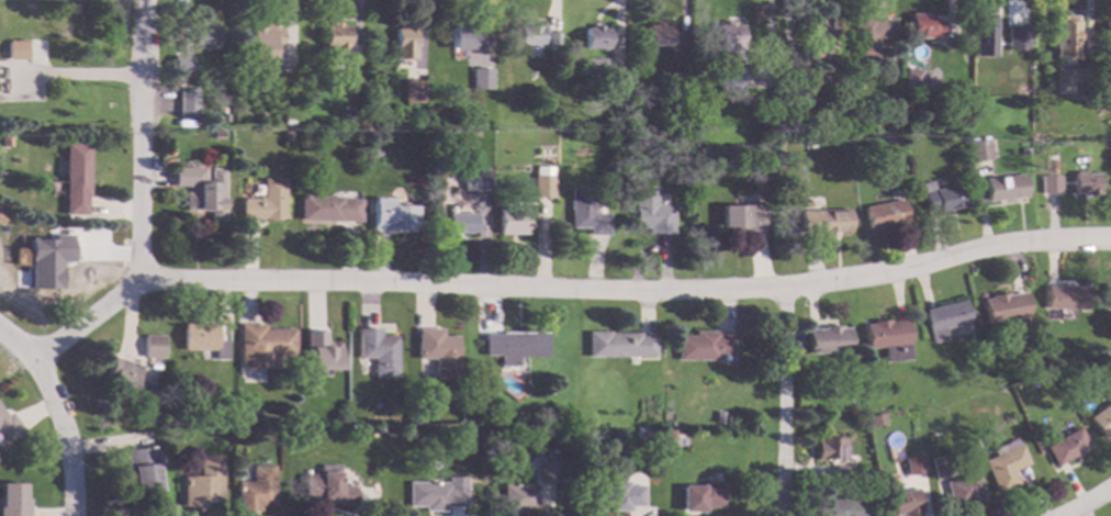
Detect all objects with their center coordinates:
building: (924, 26)
building: (818, 30)
building: (1107, 34)
building: (529, 35)
building: (656, 35)
building: (869, 35)
building: (984, 35)
building: (204, 36)
building: (336, 36)
building: (462, 37)
building: (595, 37)
building: (1017, 38)
building: (1065, 38)
building: (552, 40)
building: (404, 42)
building: (730, 42)
building: (265, 44)
building: (16, 51)
building: (183, 58)
road: (7, 67)
building: (593, 69)
road: (75, 74)
building: (733, 75)
building: (356, 76)
building: (821, 77)
building: (913, 77)
building: (482, 78)
building: (678, 78)
building: (983, 79)
building: (285, 81)
building: (1063, 81)
building: (414, 90)
building: (683, 93)
building: (188, 102)
building: (374, 106)
building: (889, 124)
building: (216, 133)
building: (618, 134)
building: (287, 135)
building: (1055, 143)
building: (979, 150)
building: (1025, 152)
building: (76, 178)
building: (765, 178)
building: (475, 179)
building: (543, 182)
building: (1050, 183)
building: (1085, 183)
building: (1005, 188)
building: (203, 191)
building: (943, 198)
building: (266, 201)
road: (139, 204)
building: (329, 209)
building: (586, 211)
building: (651, 212)
building: (886, 214)
building: (2, 216)
building: (391, 216)
building: (742, 216)
building: (512, 221)
building: (830, 221)
building: (460, 223)
building: (48, 261)
road: (627, 291)
building: (1066, 296)
building: (1110, 296)
building: (1003, 306)
building: (944, 318)
building: (203, 338)
building: (889, 338)
building: (828, 339)
road: (18, 341)
building: (266, 341)
building: (618, 344)
building: (153, 345)
building: (515, 345)
building: (703, 346)
building: (378, 351)
building: (437, 351)
building: (319, 352)
building: (519, 374)
building: (128, 381)
building: (855, 399)
road: (783, 401)
building: (250, 414)
building: (183, 415)
building: (719, 417)
building: (412, 419)
building: (876, 419)
building: (1102, 419)
building: (160, 420)
building: (9, 425)
road: (66, 434)
building: (564, 435)
building: (670, 435)
building: (1067, 447)
building: (829, 448)
building: (914, 464)
building: (1006, 464)
building: (939, 467)
building: (143, 468)
building: (548, 468)
building: (843, 472)
building: (203, 482)
building: (328, 486)
building: (256, 489)
building: (964, 490)
building: (437, 493)
building: (616, 495)
building: (702, 496)
building: (518, 497)
building: (877, 497)
building: (13, 500)
building: (906, 503)
road: (1086, 503)
building: (842, 507)

